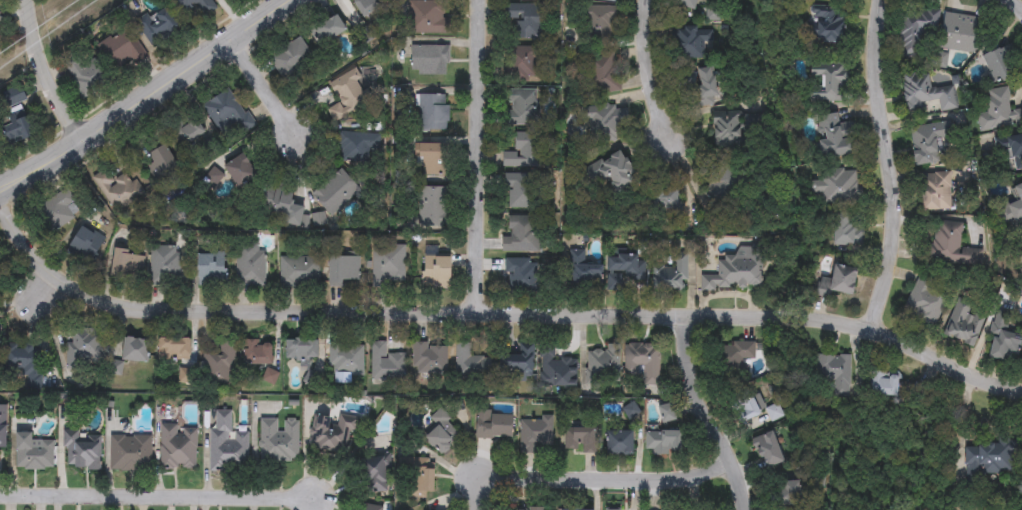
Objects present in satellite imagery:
building: (226, 0)
building: (608, 0)
building: (687, 4)
road: (1013, 5)
building: (207, 6)
building: (369, 6)
building: (427, 17)
building: (525, 20)
building: (598, 22)
building: (159, 24)
building: (826, 25)
building: (330, 30)
building: (915, 33)
building: (961, 33)
building: (693, 42)
building: (120, 52)
building: (289, 59)
building: (430, 60)
building: (522, 64)
building: (1001, 64)
building: (84, 72)
road: (41, 73)
road: (644, 73)
building: (602, 74)
building: (830, 81)
building: (709, 86)
road: (153, 89)
road: (265, 90)
building: (348, 92)
building: (925, 93)
building: (14, 96)
building: (522, 107)
building: (999, 111)
building: (433, 113)
building: (228, 116)
building: (607, 123)
building: (18, 127)
building: (733, 130)
building: (193, 131)
building: (836, 137)
building: (928, 142)
building: (360, 145)
building: (1010, 147)
building: (524, 151)
road: (477, 156)
building: (434, 159)
building: (162, 164)
road: (890, 169)
building: (240, 171)
building: (615, 172)
road: (8, 181)
building: (839, 186)
building: (721, 187)
road: (8, 188)
building: (1019, 189)
building: (522, 191)
building: (935, 191)
building: (336, 192)
building: (121, 193)
building: (272, 199)
building: (664, 199)
building: (432, 207)
building: (1017, 209)
building: (56, 211)
building: (848, 228)
building: (522, 234)
building: (84, 245)
building: (952, 245)
building: (249, 264)
building: (388, 264)
building: (625, 264)
building: (127, 265)
building: (163, 265)
building: (211, 270)
building: (344, 270)
building: (438, 270)
building: (299, 271)
building: (584, 271)
building: (740, 272)
building: (671, 273)
building: (521, 275)
building: (839, 281)
road: (34, 290)
building: (926, 301)
road: (499, 314)
building: (965, 321)
building: (1, 338)
building: (1005, 338)
building: (174, 349)
building: (81, 350)
building: (136, 350)
building: (301, 350)
building: (257, 352)
building: (738, 355)
building: (345, 359)
building: (430, 359)
building: (20, 360)
building: (518, 362)
building: (645, 362)
building: (218, 364)
building: (386, 364)
building: (471, 364)
building: (605, 366)
building: (556, 367)
building: (836, 372)
building: (885, 384)
building: (746, 408)
road: (709, 413)
building: (776, 413)
building: (669, 414)
building: (496, 425)
building: (3, 426)
building: (441, 433)
building: (535, 433)
building: (332, 434)
building: (582, 439)
building: (277, 441)
building: (665, 441)
building: (622, 443)
building: (227, 445)
building: (178, 449)
building: (771, 450)
building: (81, 452)
building: (33, 453)
building: (131, 453)
building: (992, 456)
building: (375, 474)
road: (601, 481)
building: (422, 482)
building: (790, 494)
road: (159, 500)
building: (536, 508)
building: (578, 509)

